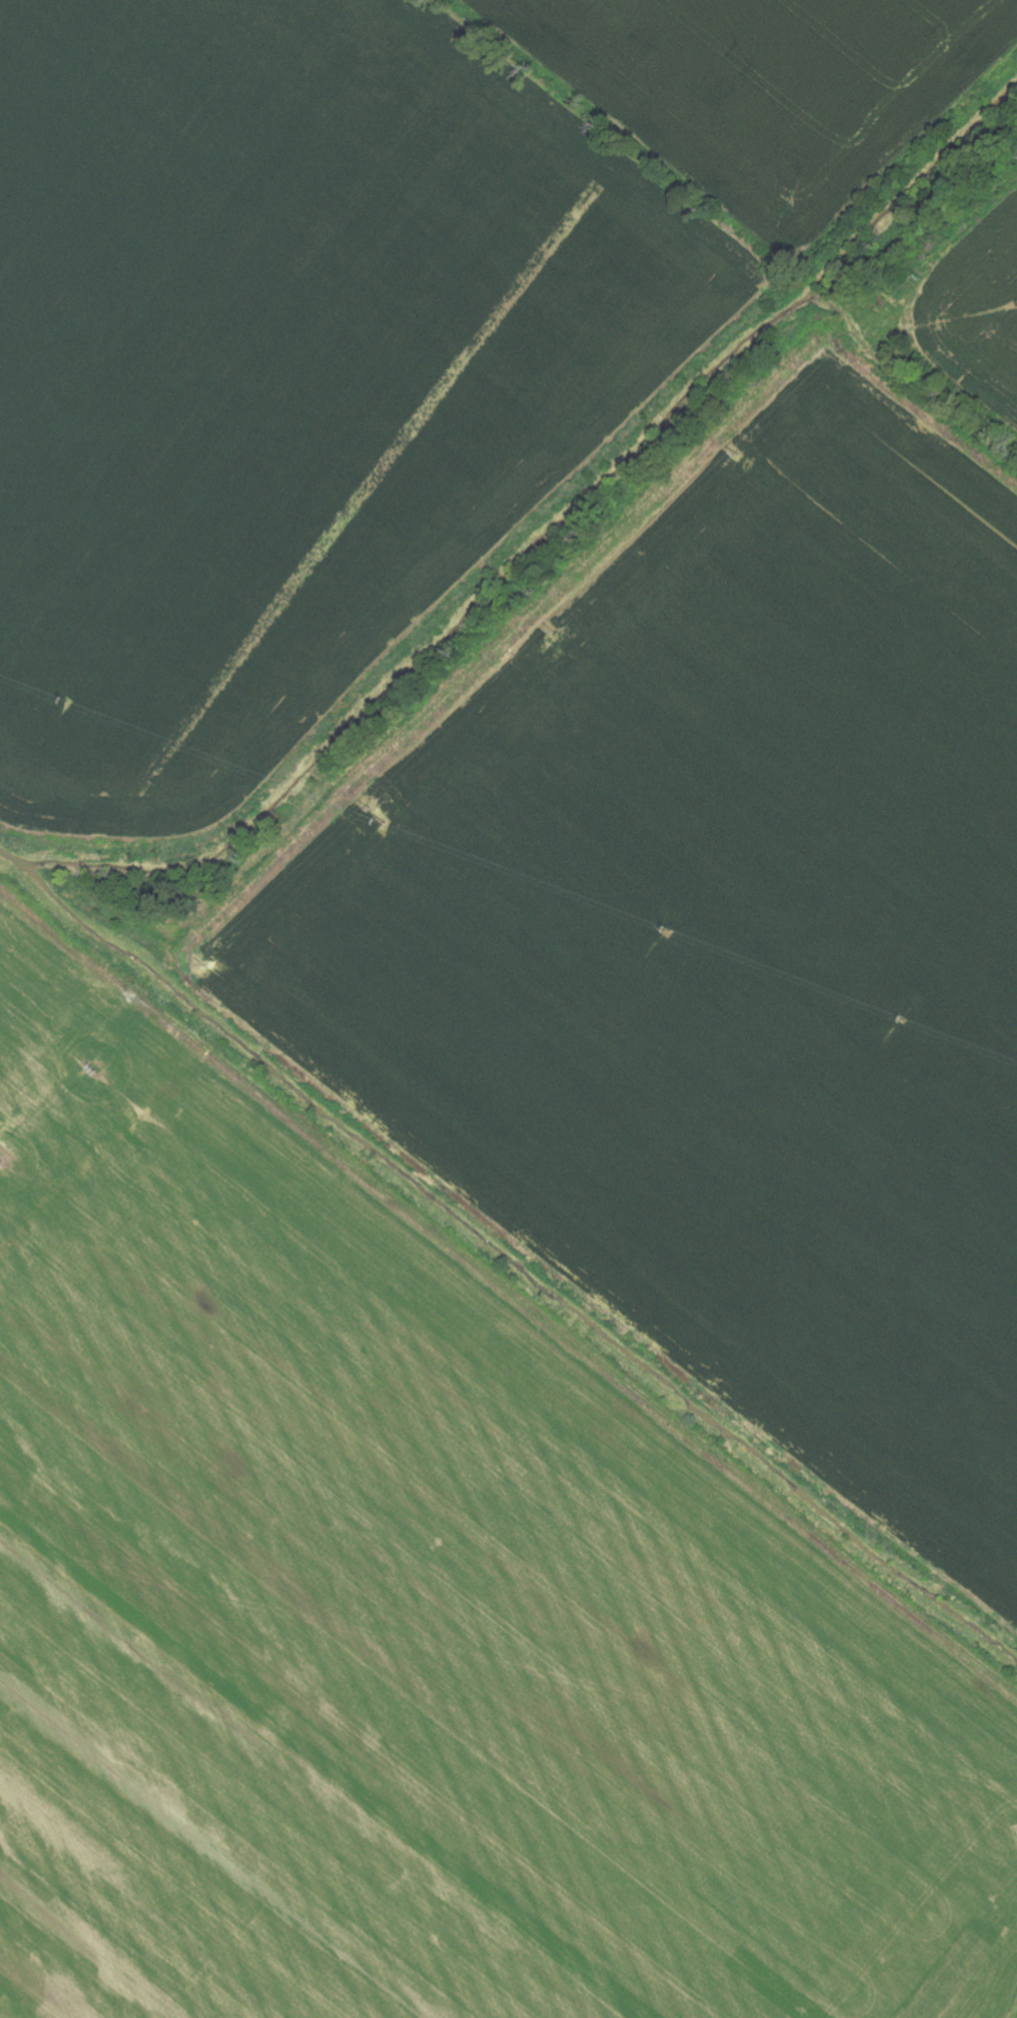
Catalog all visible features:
road: (508, 1273)

